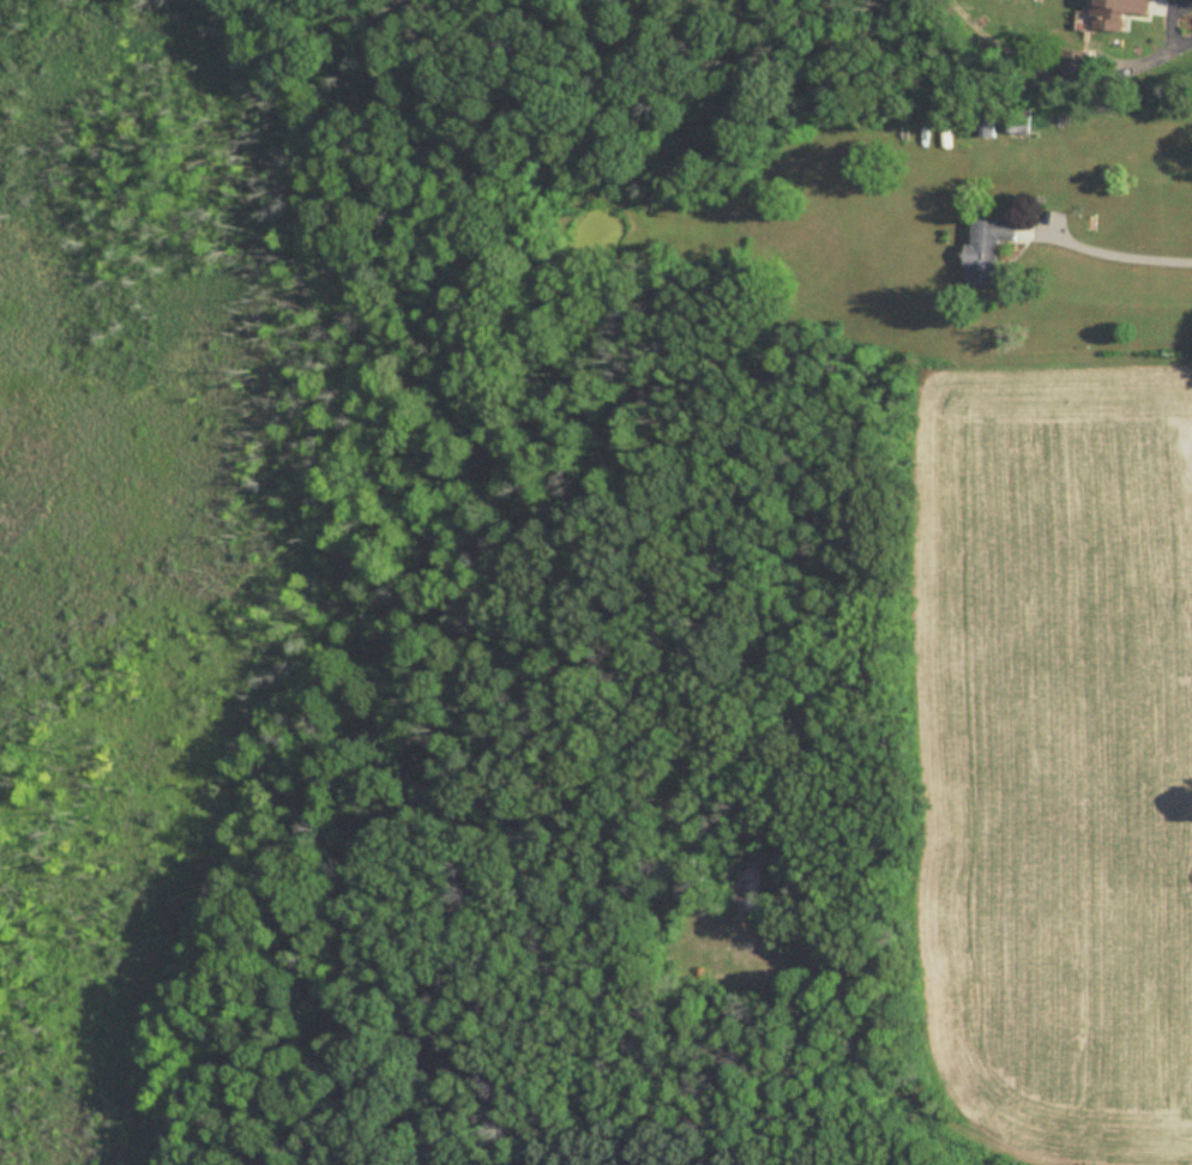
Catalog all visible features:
building: (1119, 13)
road: (1188, 19)
building: (1077, 67)
building: (1021, 120)
building: (991, 248)
road: (1125, 255)
building: (697, 880)
building: (746, 888)
road: (890, 1081)

